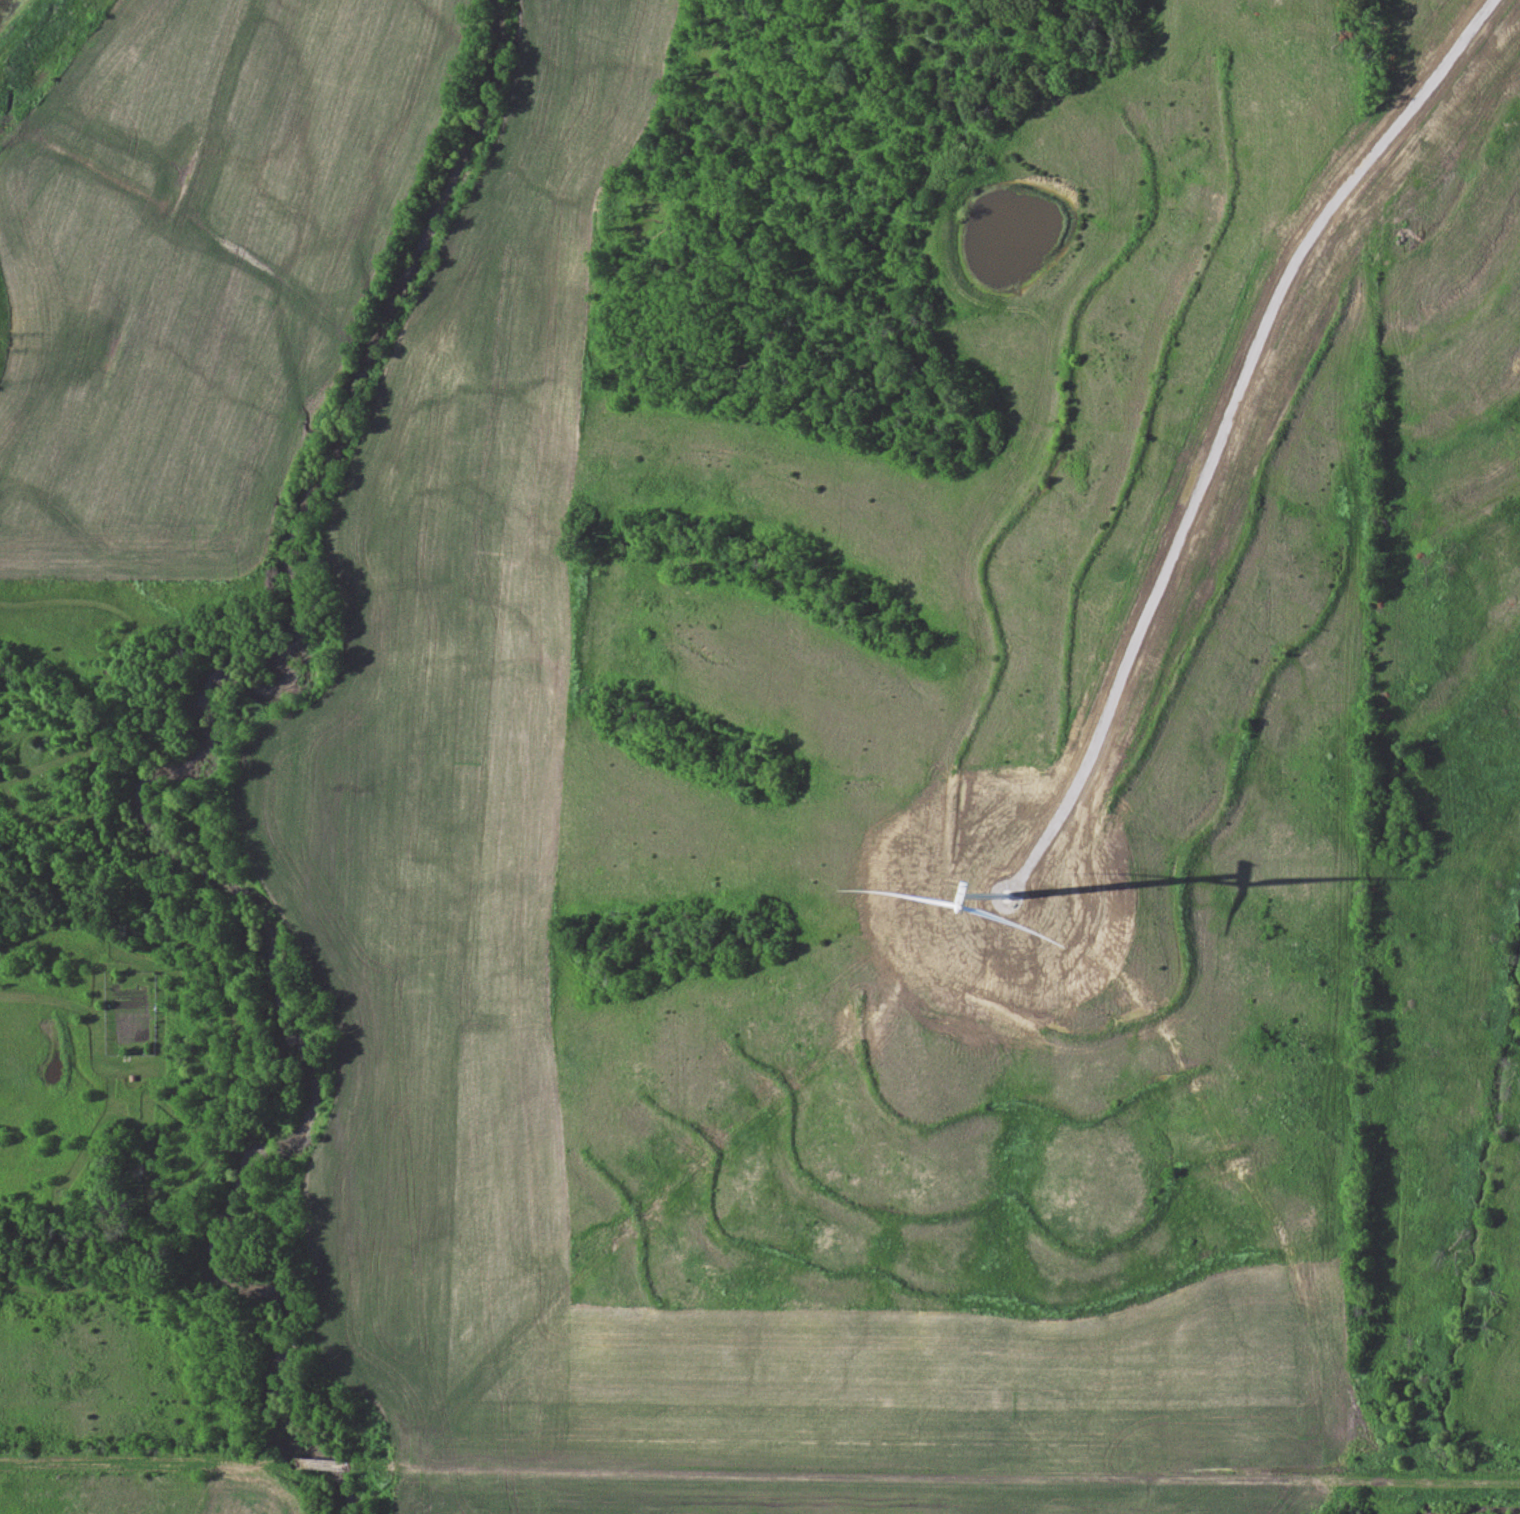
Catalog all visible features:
wind turbine: (1012, 907)
road: (145, 1461)
road: (328, 1465)
road: (942, 1471)

